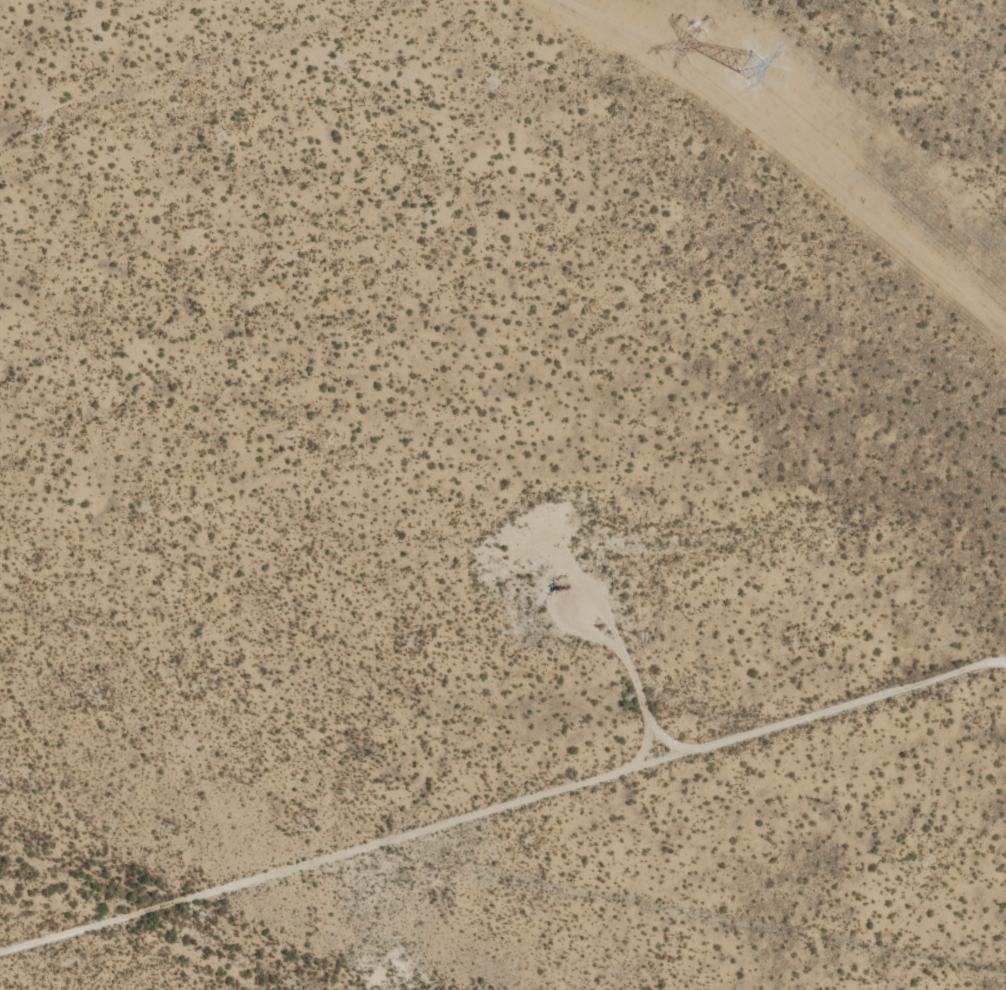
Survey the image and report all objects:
power tower: (746, 65)
road: (242, 80)
road: (508, 828)

